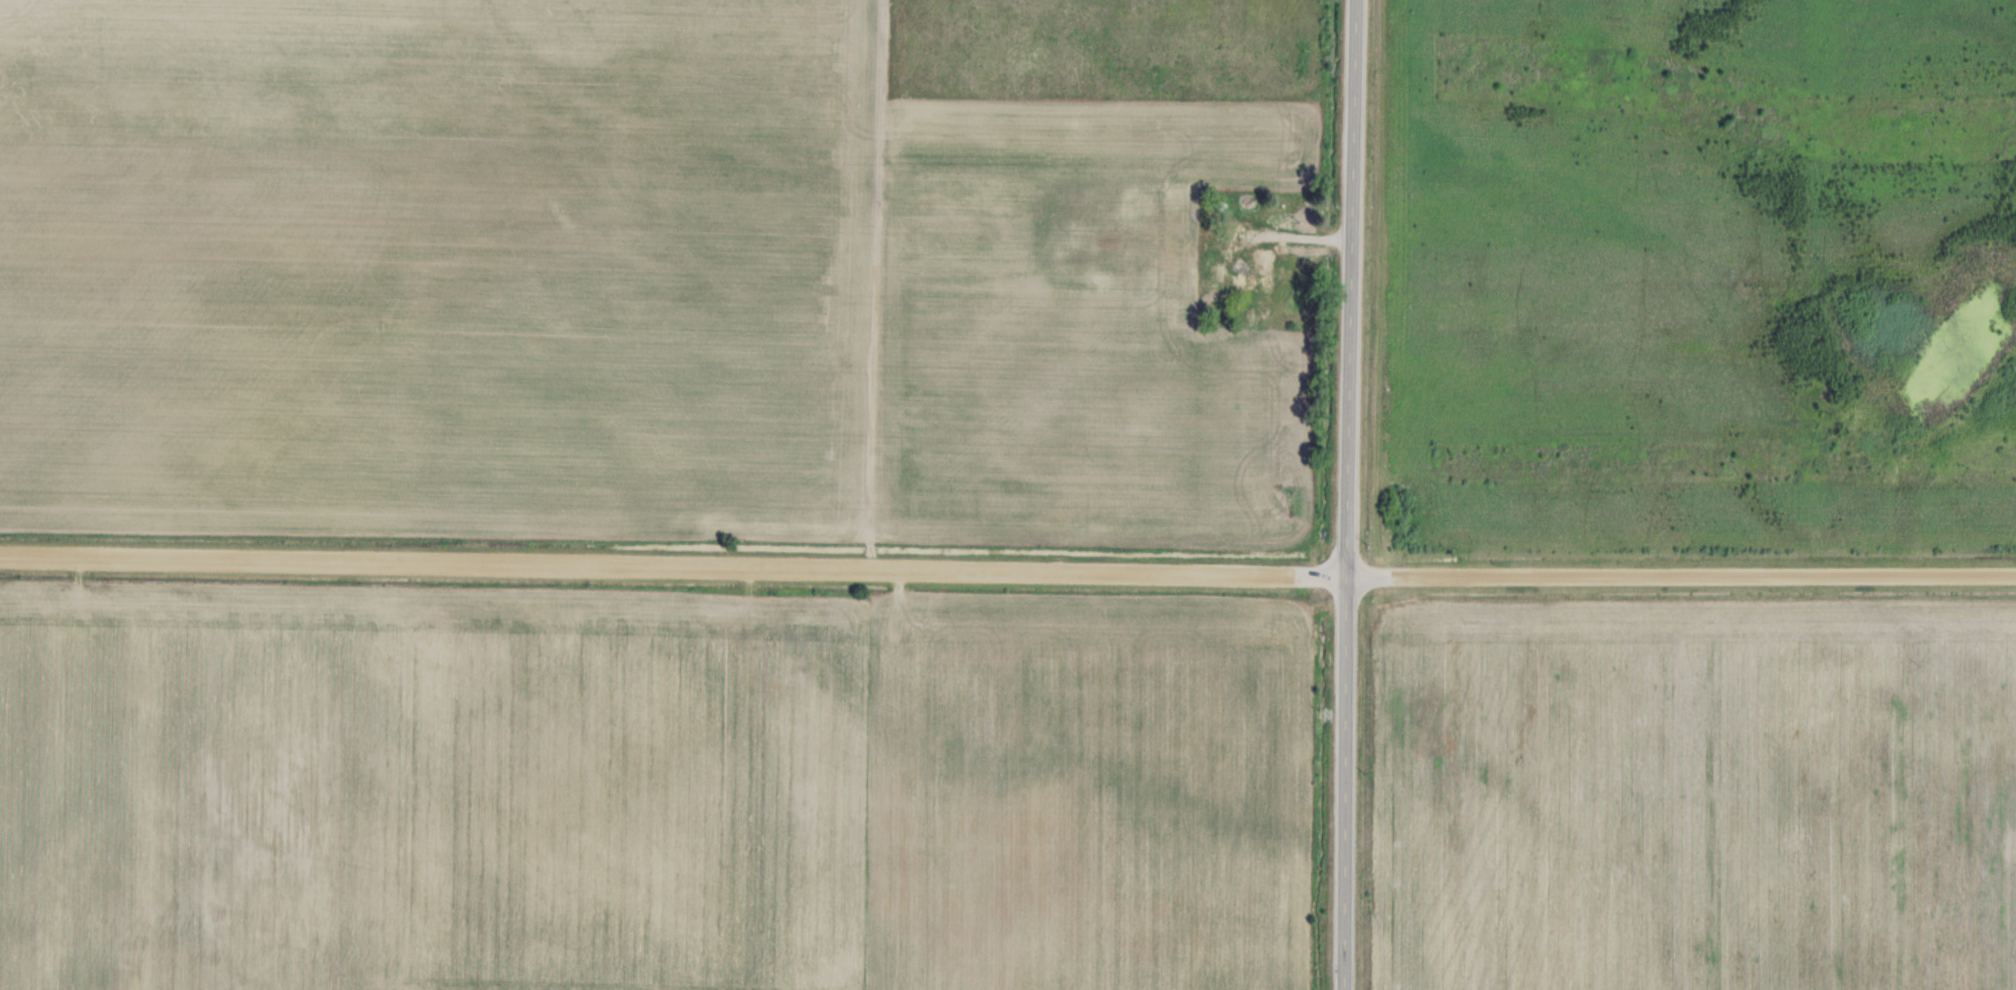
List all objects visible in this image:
building: (1103, 233)
road: (1348, 494)
road: (1007, 571)

